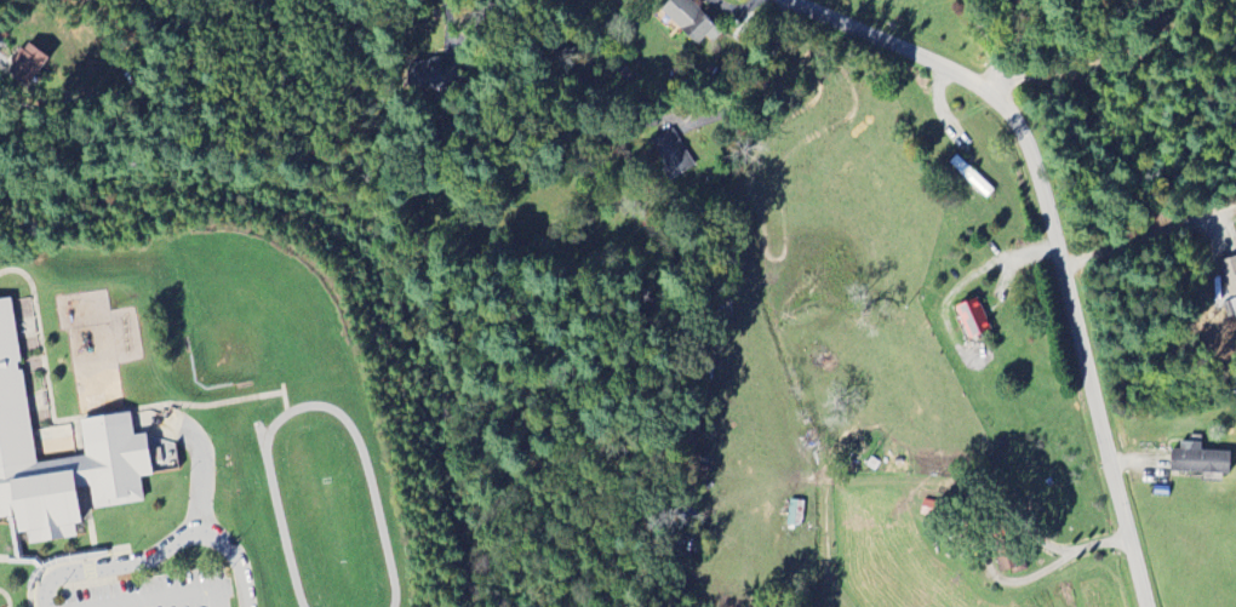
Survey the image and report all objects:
road: (447, 22)
building: (689, 22)
road: (990, 62)
building: (27, 65)
building: (434, 76)
building: (671, 156)
road: (1051, 237)
road: (1141, 237)
building: (1229, 275)
park: (253, 309)
building: (974, 321)
road: (284, 395)
road: (80, 417)
building: (61, 458)
building: (1198, 462)
road: (200, 473)
track: (377, 516)
road: (15, 537)
road: (159, 550)
road: (2, 557)
road: (59, 557)
road: (24, 559)
building: (1007, 567)
road: (992, 573)
road: (173, 596)
road: (6, 597)

